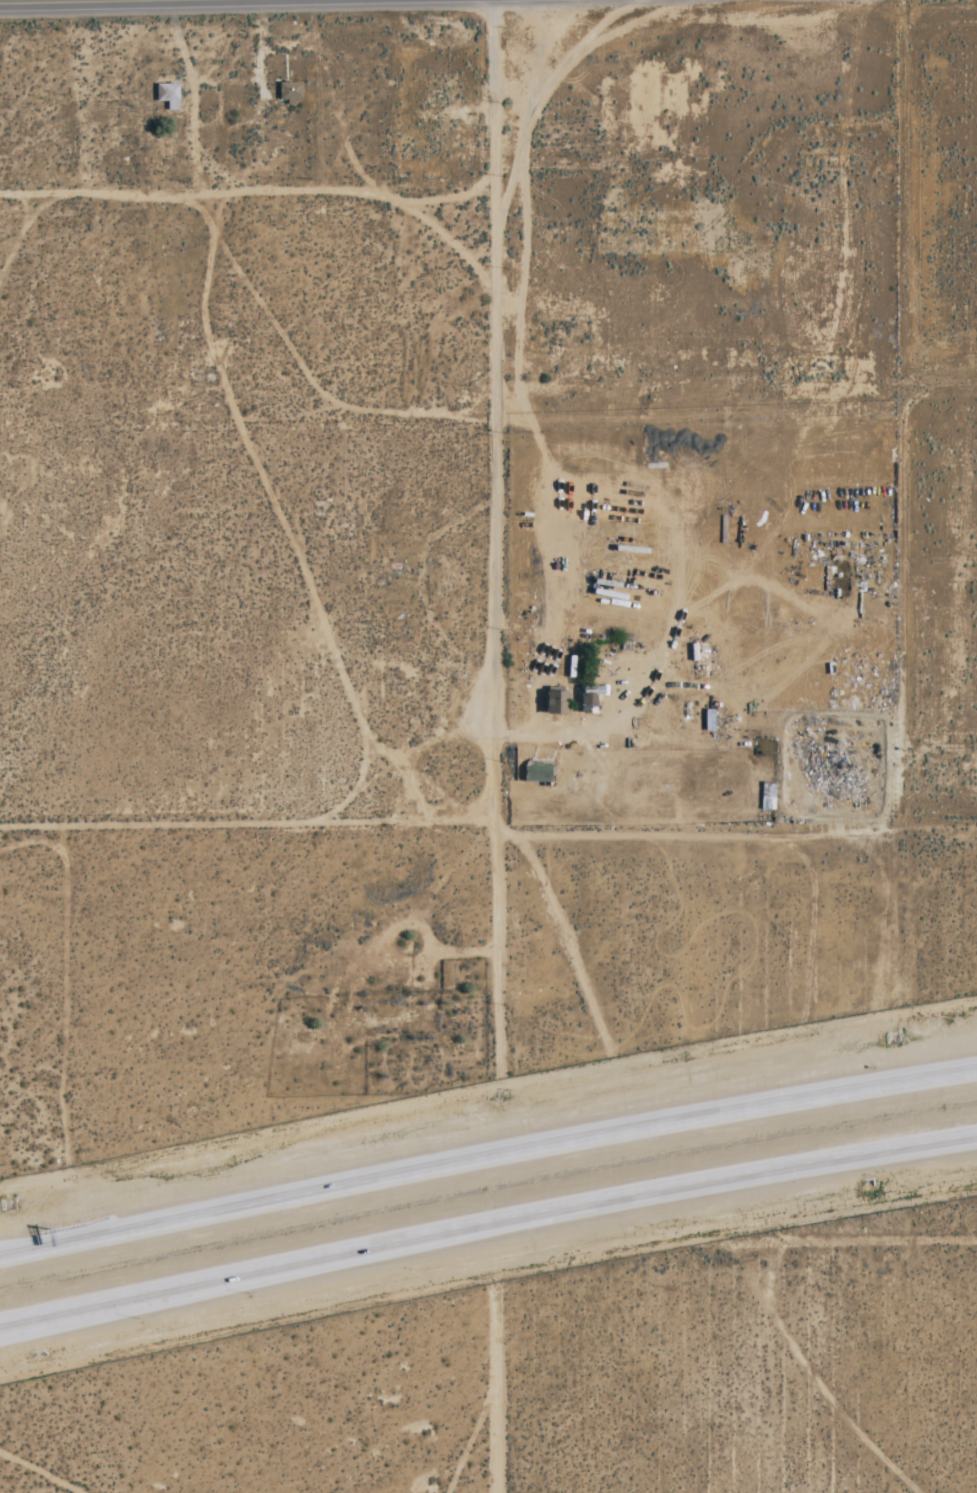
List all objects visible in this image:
road: (258, 48)
building: (289, 92)
building: (167, 95)
road: (192, 95)
road: (493, 415)
road: (735, 1110)
road: (742, 1176)
road: (259, 1204)
road: (12, 1252)
road: (12, 1254)
road: (262, 1271)
road: (8, 1323)
road: (8, 1324)
road: (494, 1395)

